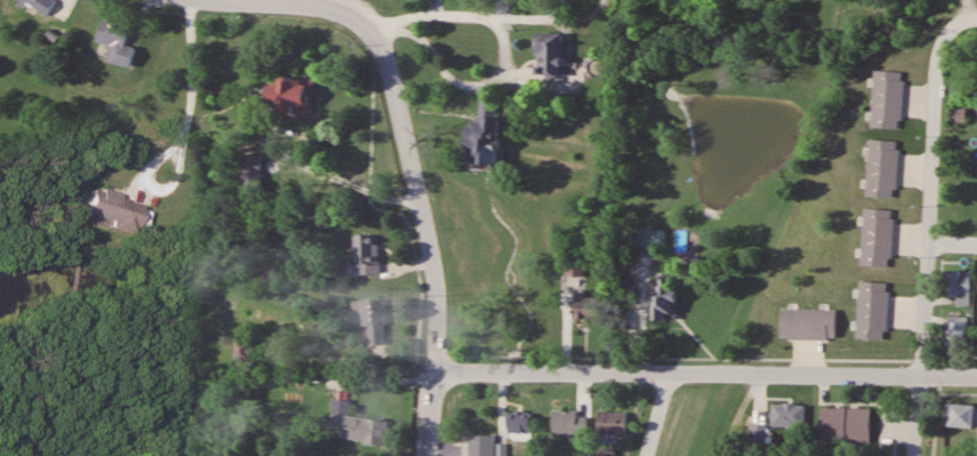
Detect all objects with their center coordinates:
road: (305, 3)
building: (41, 4)
road: (251, 4)
road: (443, 18)
road: (961, 25)
building: (116, 41)
building: (548, 53)
building: (296, 95)
building: (886, 98)
building: (484, 134)
building: (882, 168)
building: (251, 172)
road: (421, 204)
building: (107, 209)
building: (877, 237)
building: (650, 239)
road: (953, 243)
road: (929, 244)
building: (365, 256)
building: (959, 286)
building: (662, 300)
building: (586, 308)
building: (873, 310)
building: (371, 319)
building: (807, 324)
building: (957, 335)
building: (243, 350)
road: (389, 371)
road: (613, 373)
road: (854, 377)
road: (948, 378)
road: (659, 415)
building: (787, 415)
building: (960, 416)
building: (518, 422)
building: (568, 422)
building: (611, 422)
building: (359, 425)
building: (845, 425)
building: (757, 434)
building: (481, 445)

